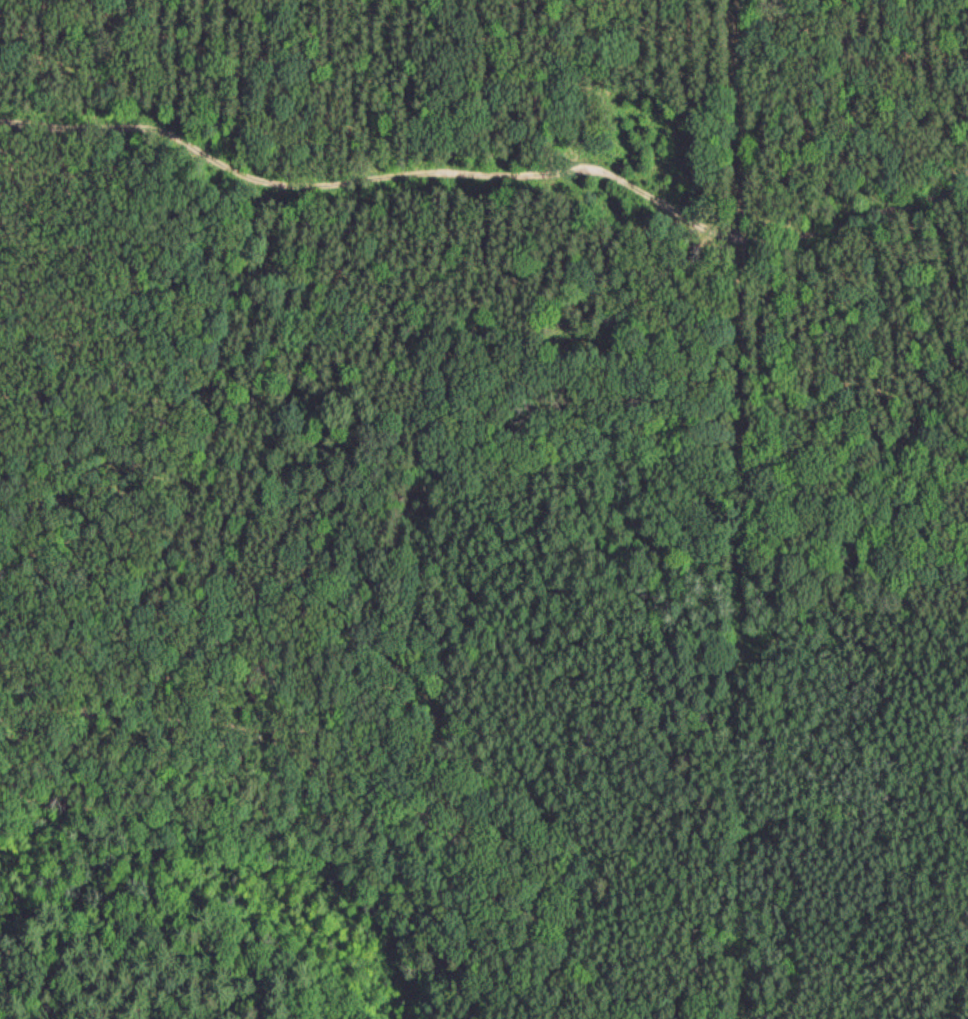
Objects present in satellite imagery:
road: (486, 249)
road: (351, 655)
road: (905, 701)

